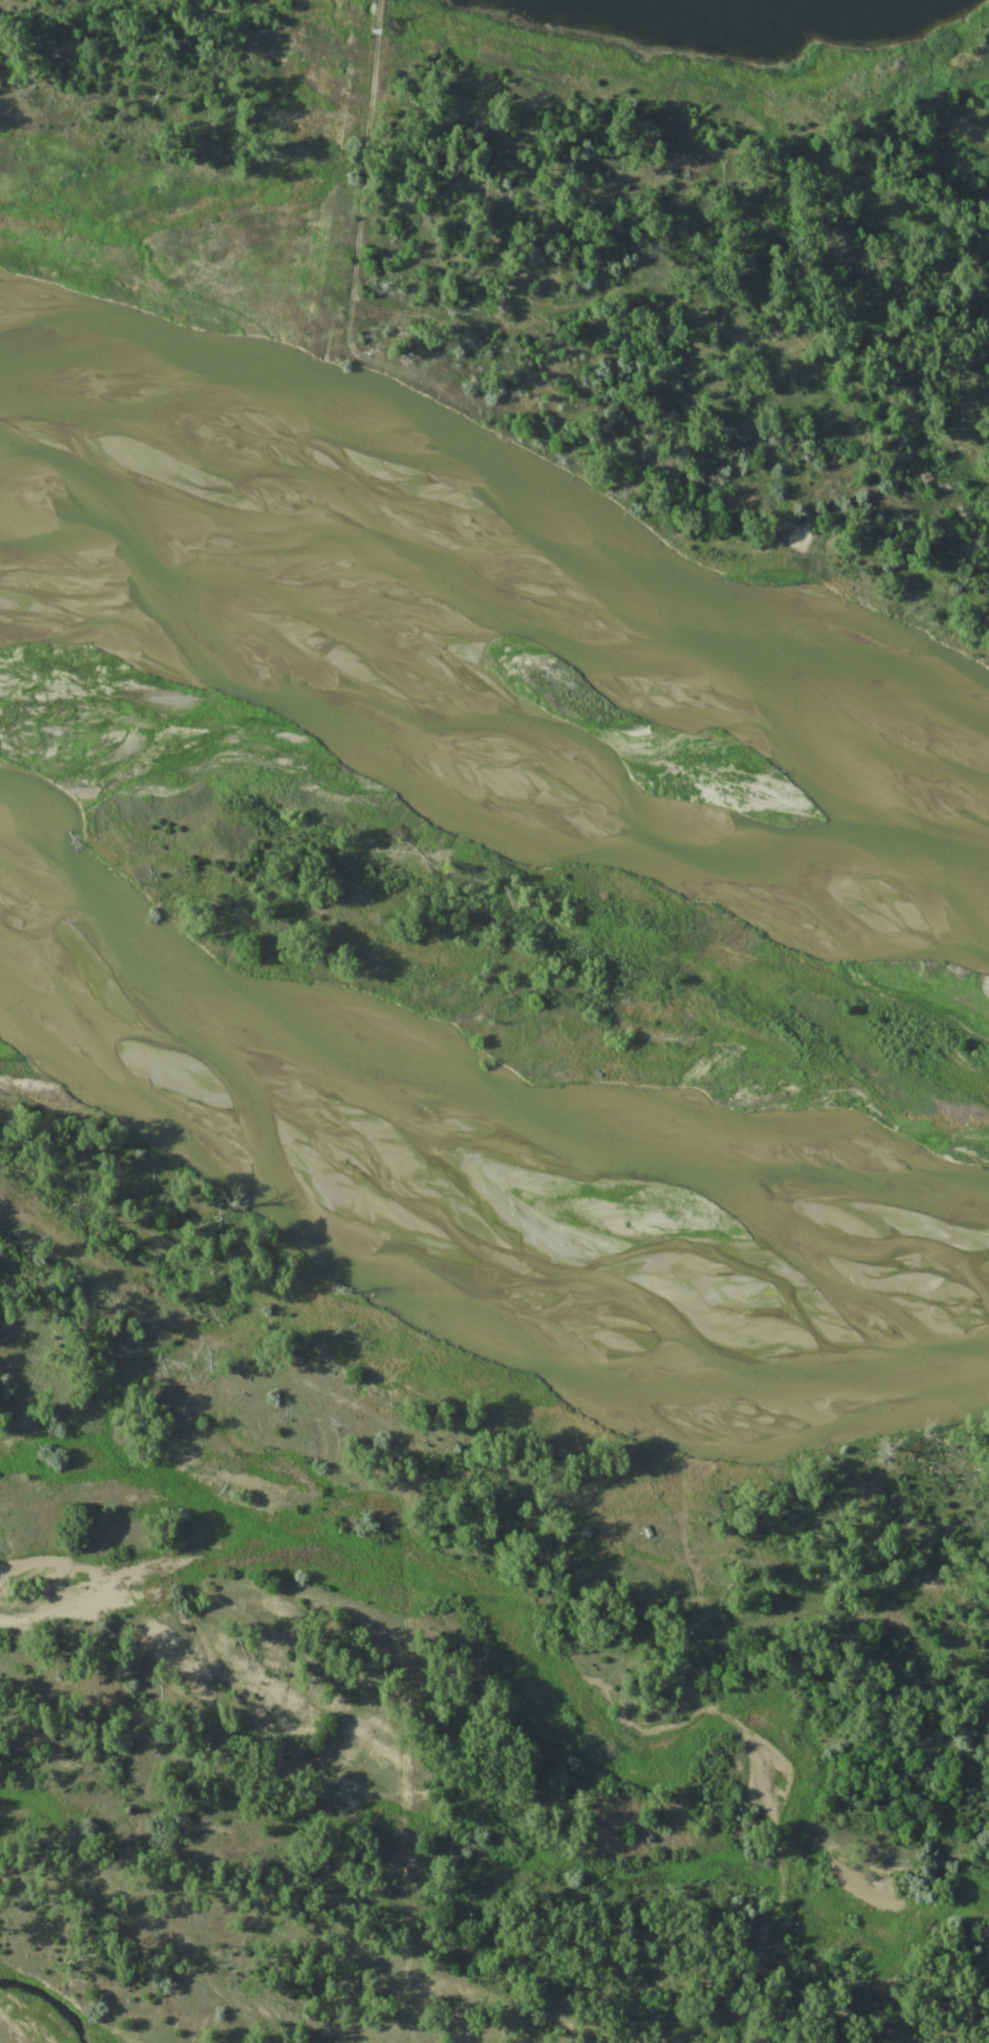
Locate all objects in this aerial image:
river: (492, 753)

